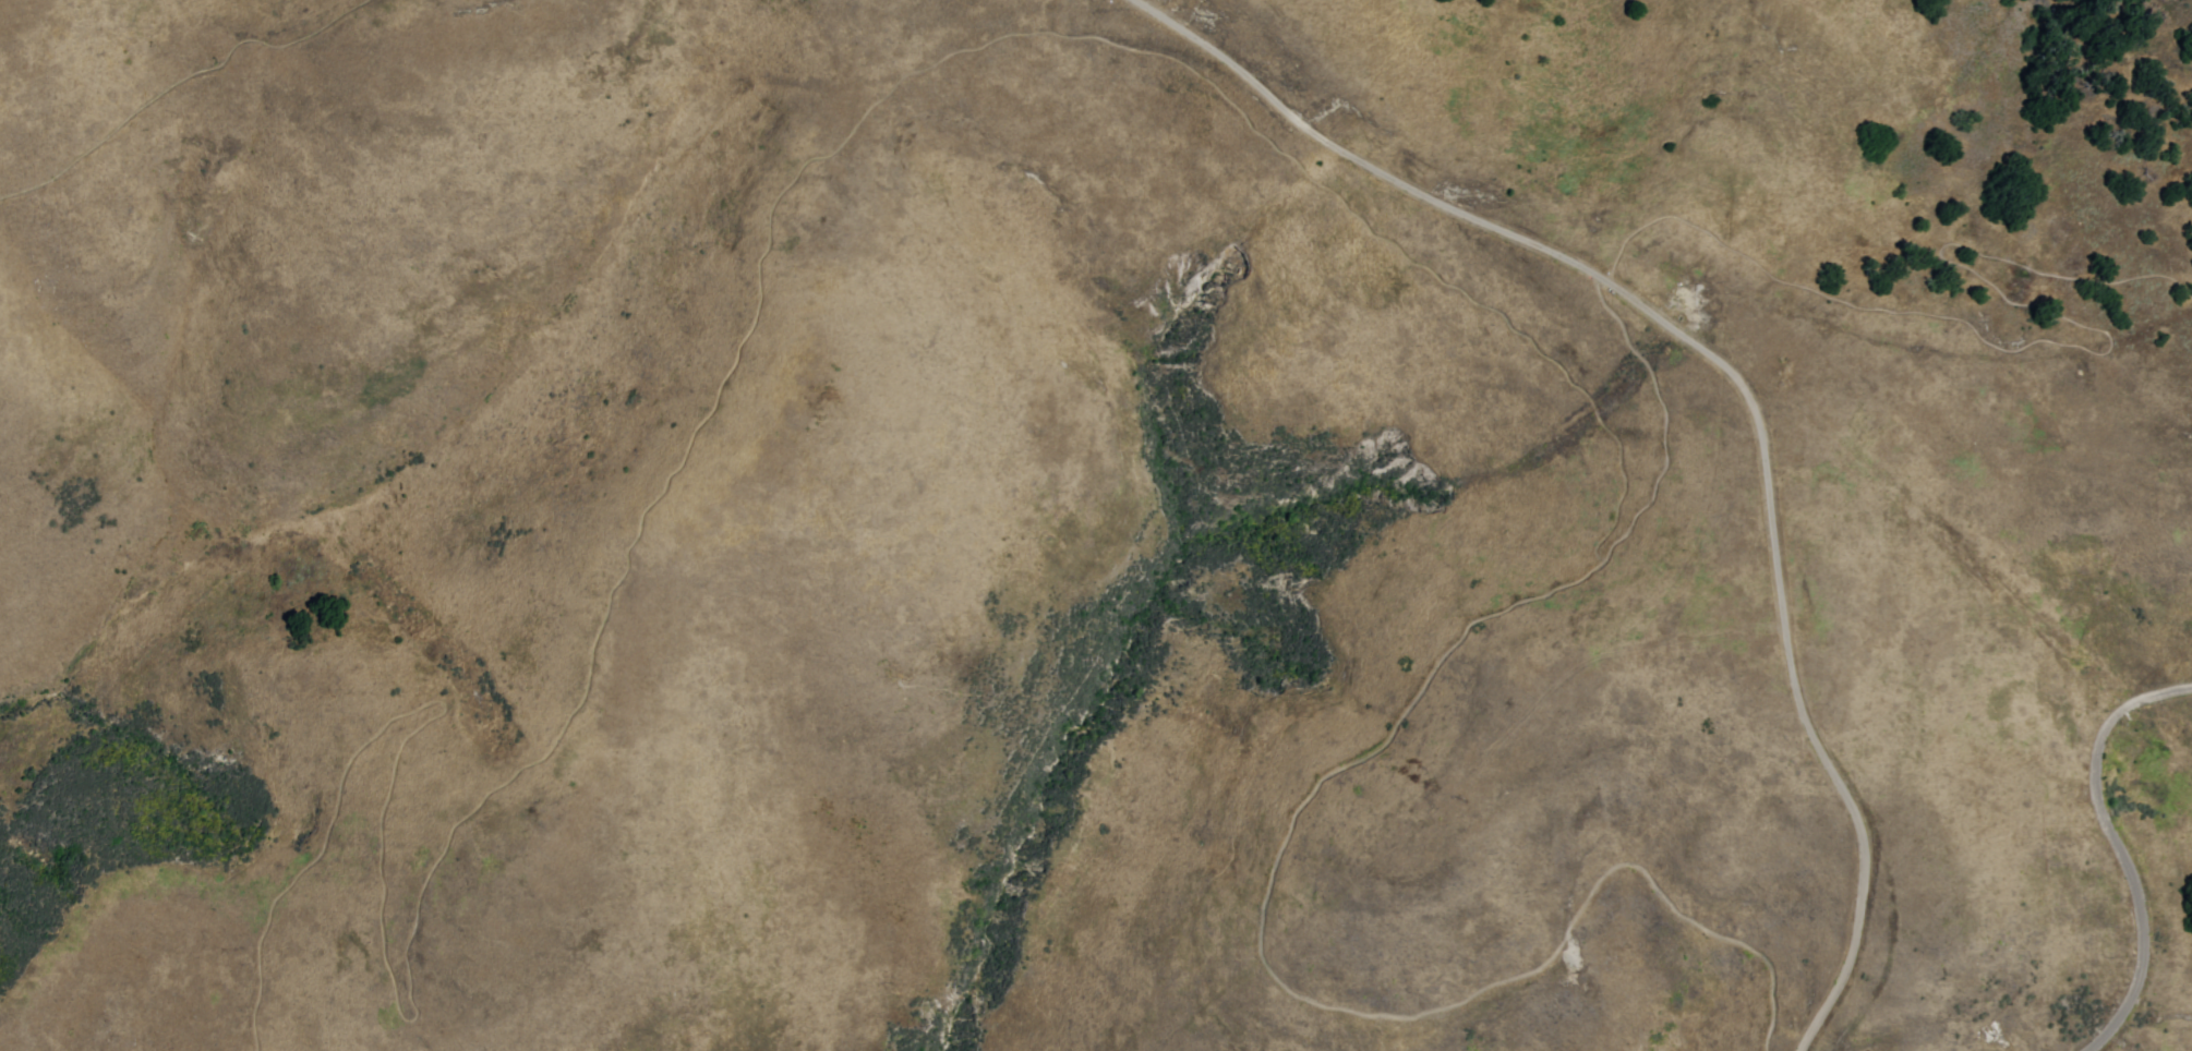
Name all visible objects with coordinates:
road: (1738, 377)
road: (2120, 849)

